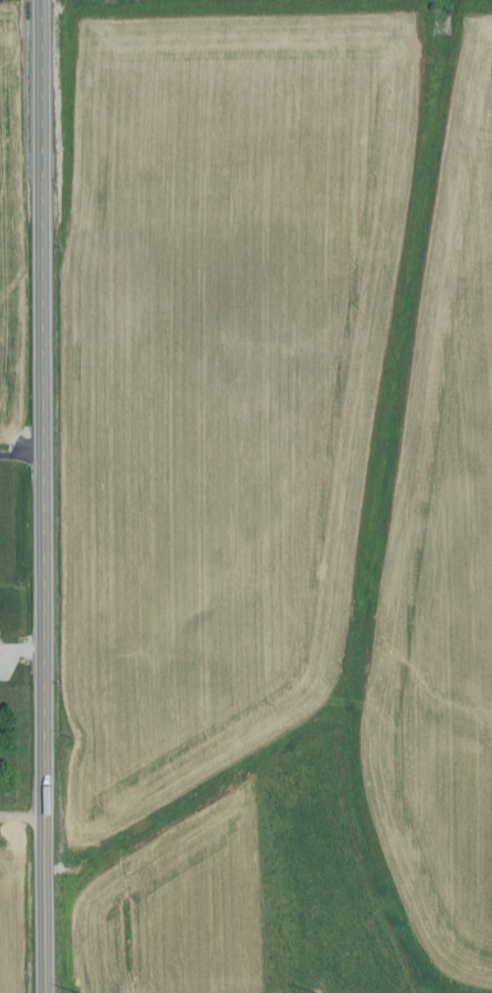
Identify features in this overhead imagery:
road: (23, 456)
road: (46, 496)

